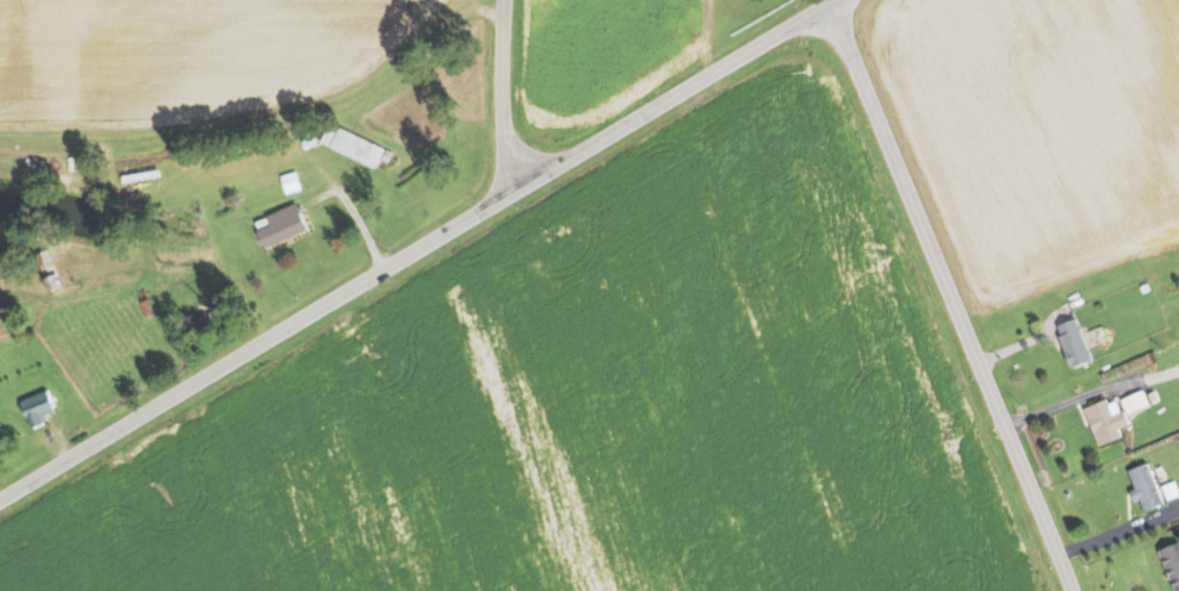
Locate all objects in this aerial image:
crop: (601, 57)
road: (498, 97)
crop: (1040, 129)
building: (361, 147)
road: (420, 251)
road: (951, 298)
building: (1076, 343)
road: (1017, 347)
building: (1155, 396)
road: (1068, 403)
crop: (591, 404)
building: (42, 408)
building: (1109, 422)
building: (1148, 487)
road: (1116, 533)
building: (1173, 562)

